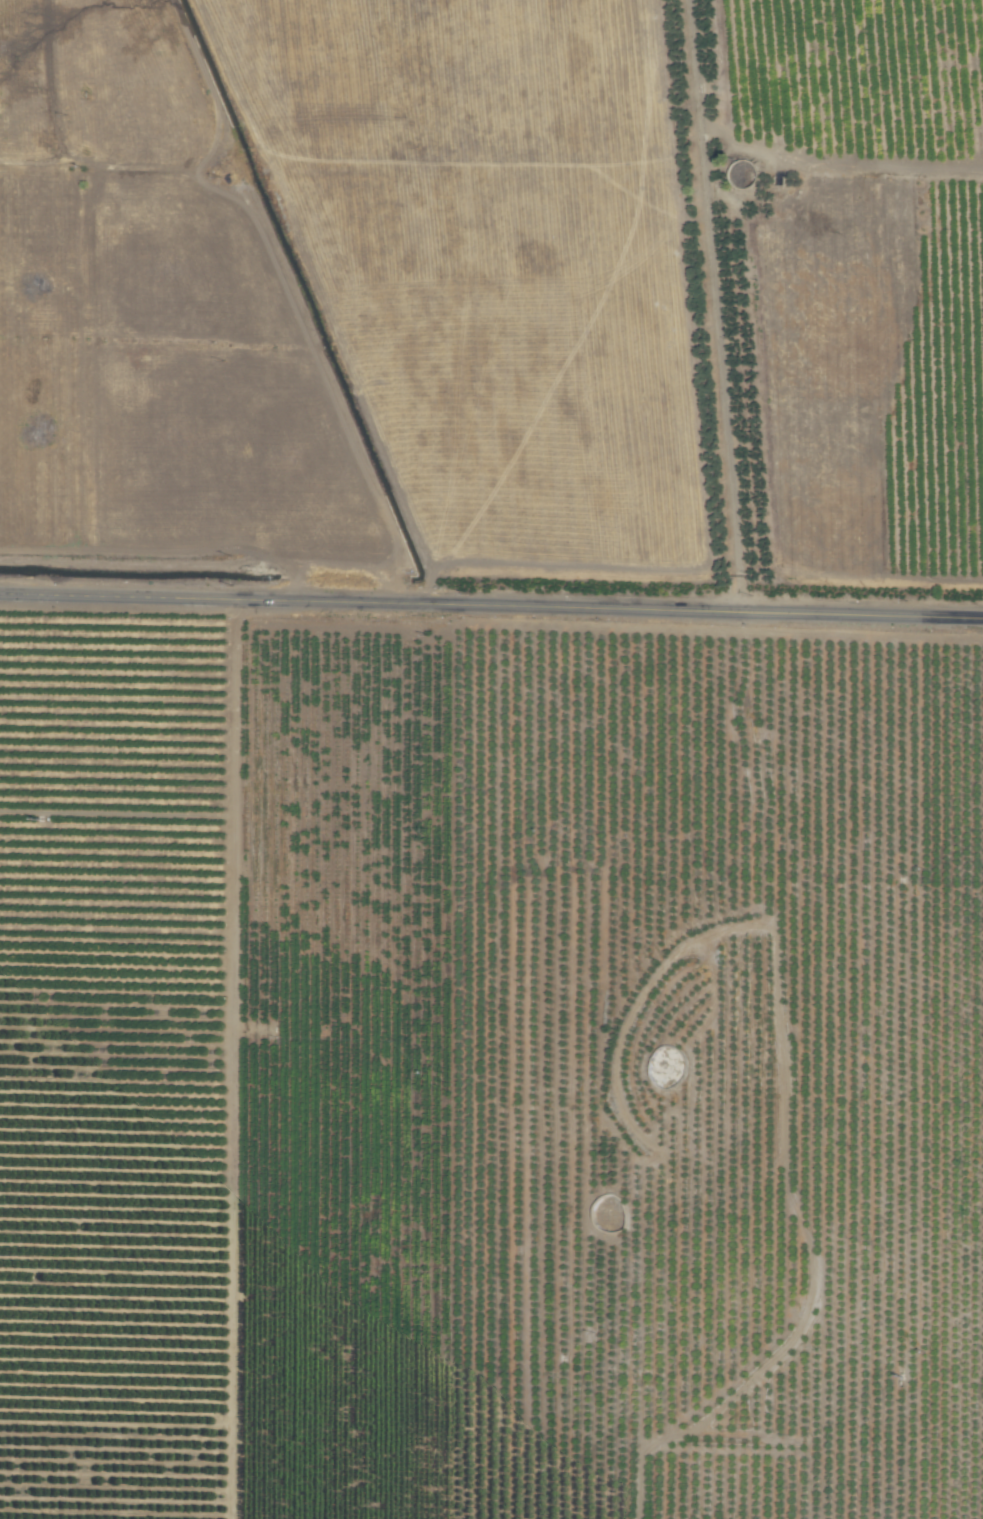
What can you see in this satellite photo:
road: (715, 305)
road: (491, 605)
crop: (491, 759)

